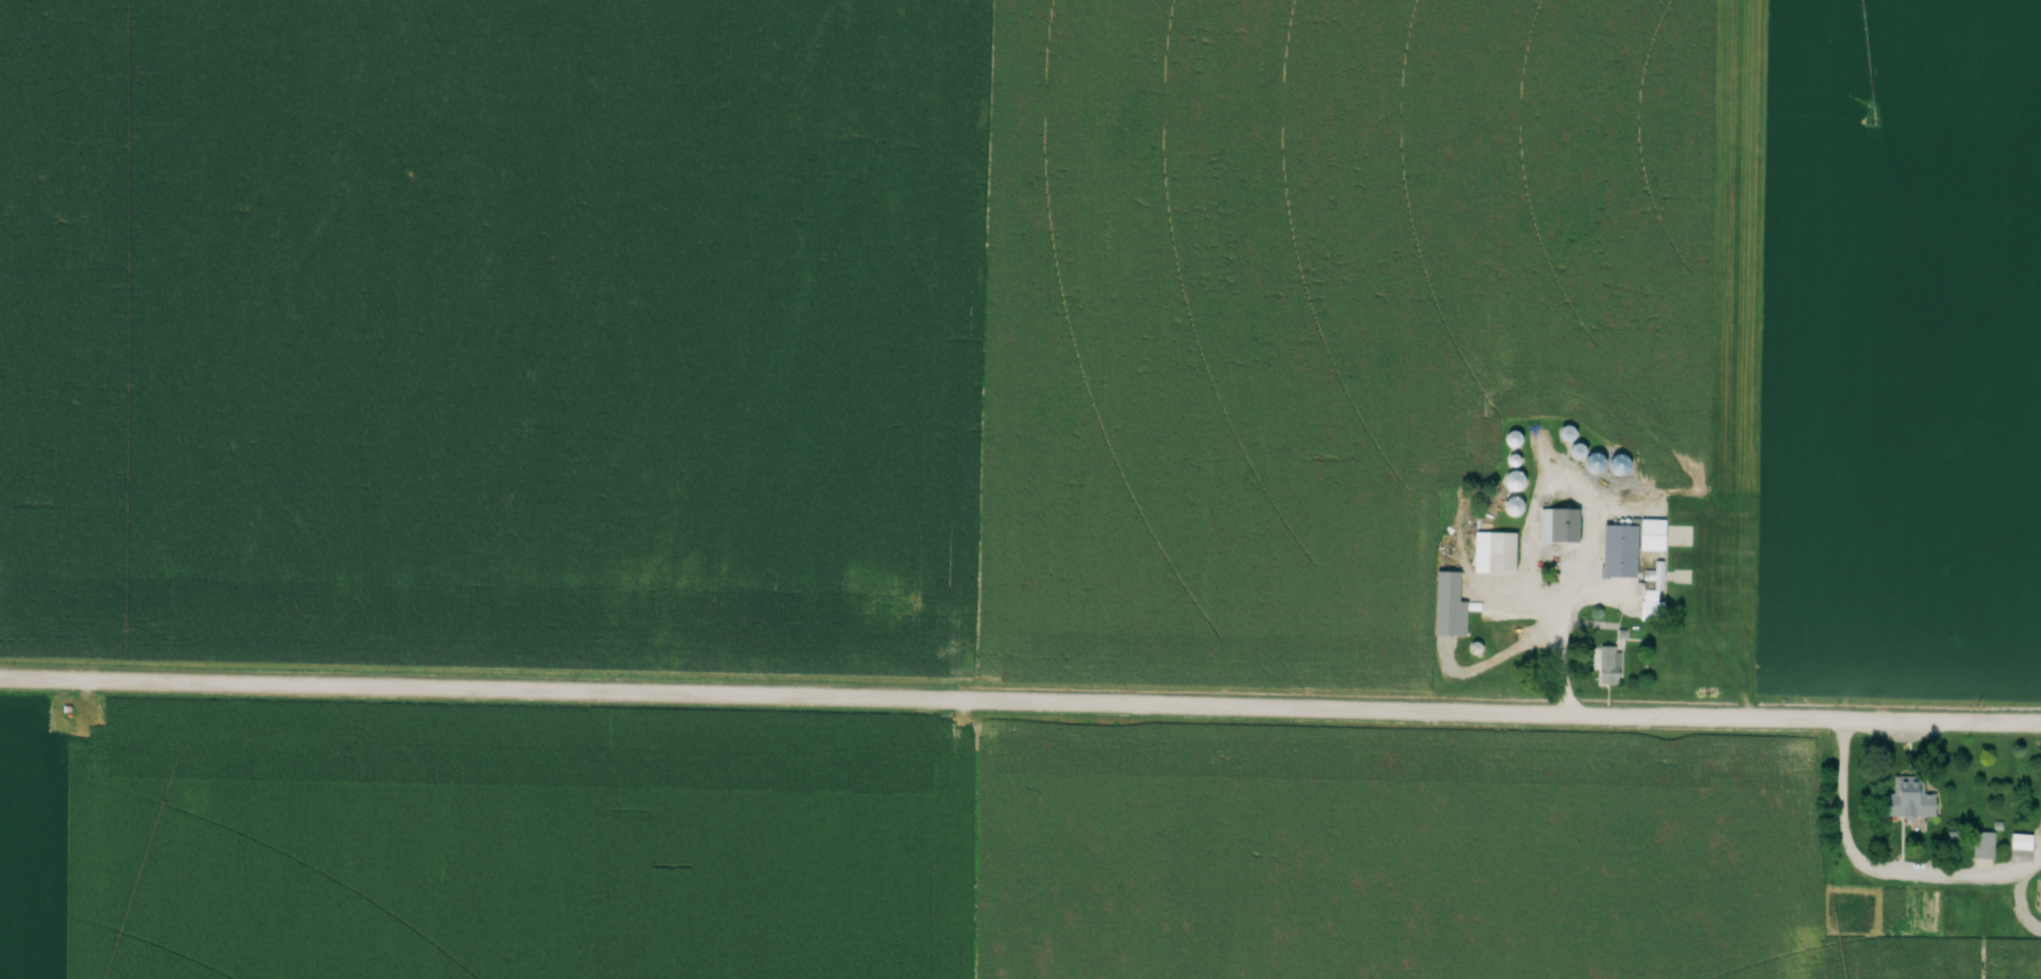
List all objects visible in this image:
building: (1558, 525)
building: (1647, 535)
building: (1657, 575)
building: (1446, 603)
building: (1607, 665)
road: (1020, 701)
building: (1908, 800)
building: (2019, 841)
building: (1982, 845)

